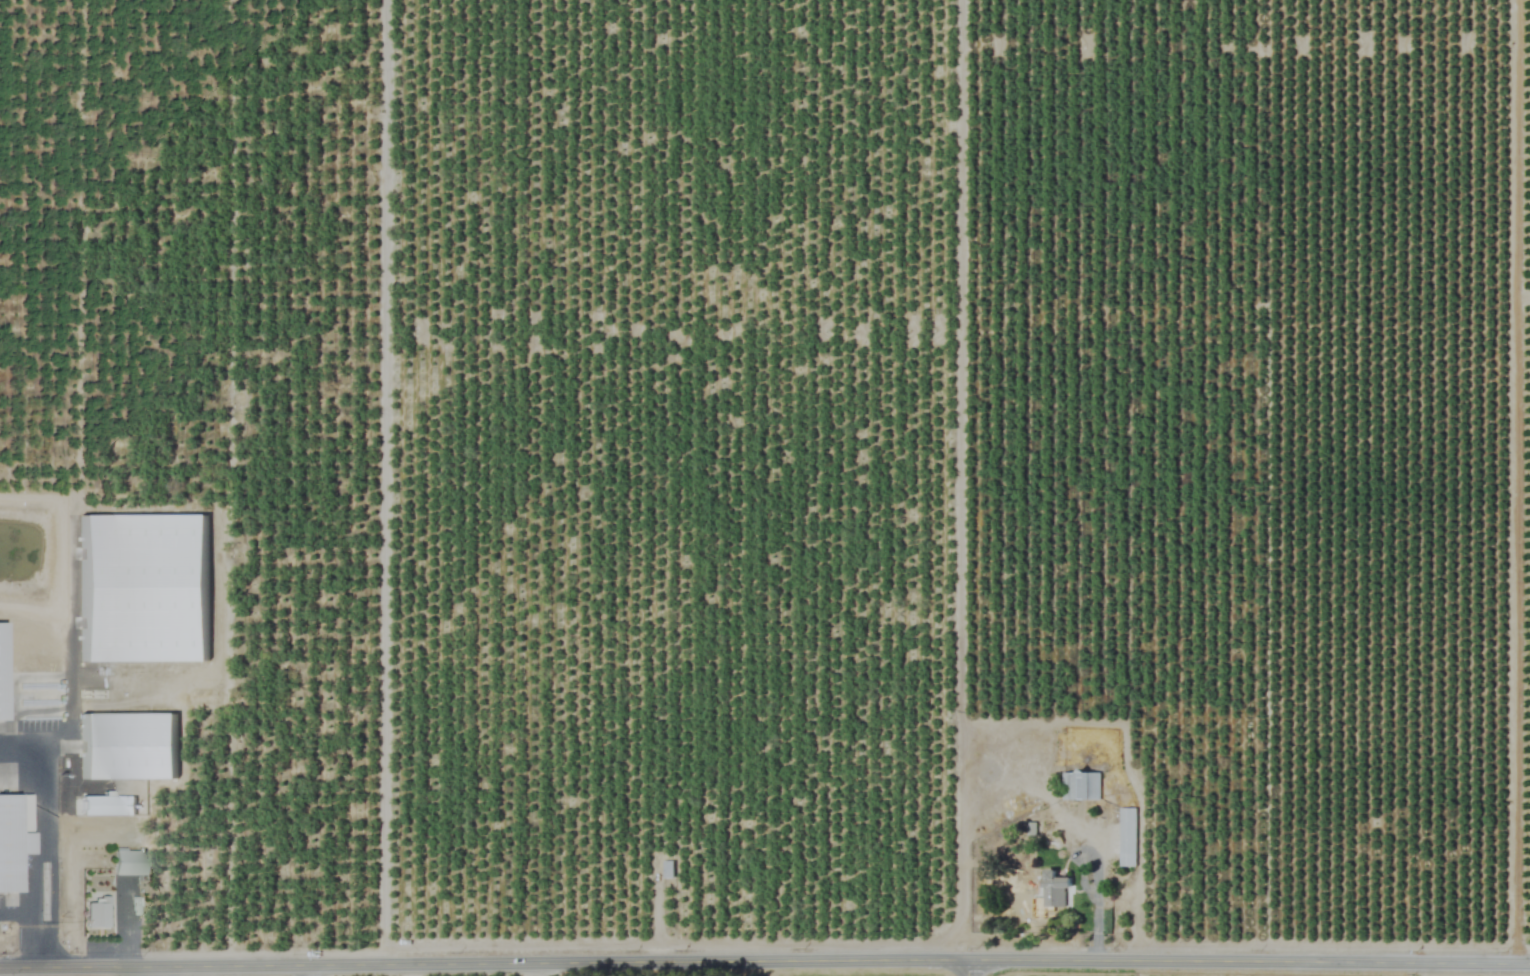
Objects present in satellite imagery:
road: (1515, 481)
building: (126, 746)
building: (1080, 786)
road: (38, 823)
building: (1127, 837)
building: (9, 843)
building: (127, 861)
building: (1054, 890)
building: (95, 913)
road: (30, 926)
road: (120, 926)
road: (764, 960)
road: (966, 967)
road: (552, 969)
road: (309, 971)

